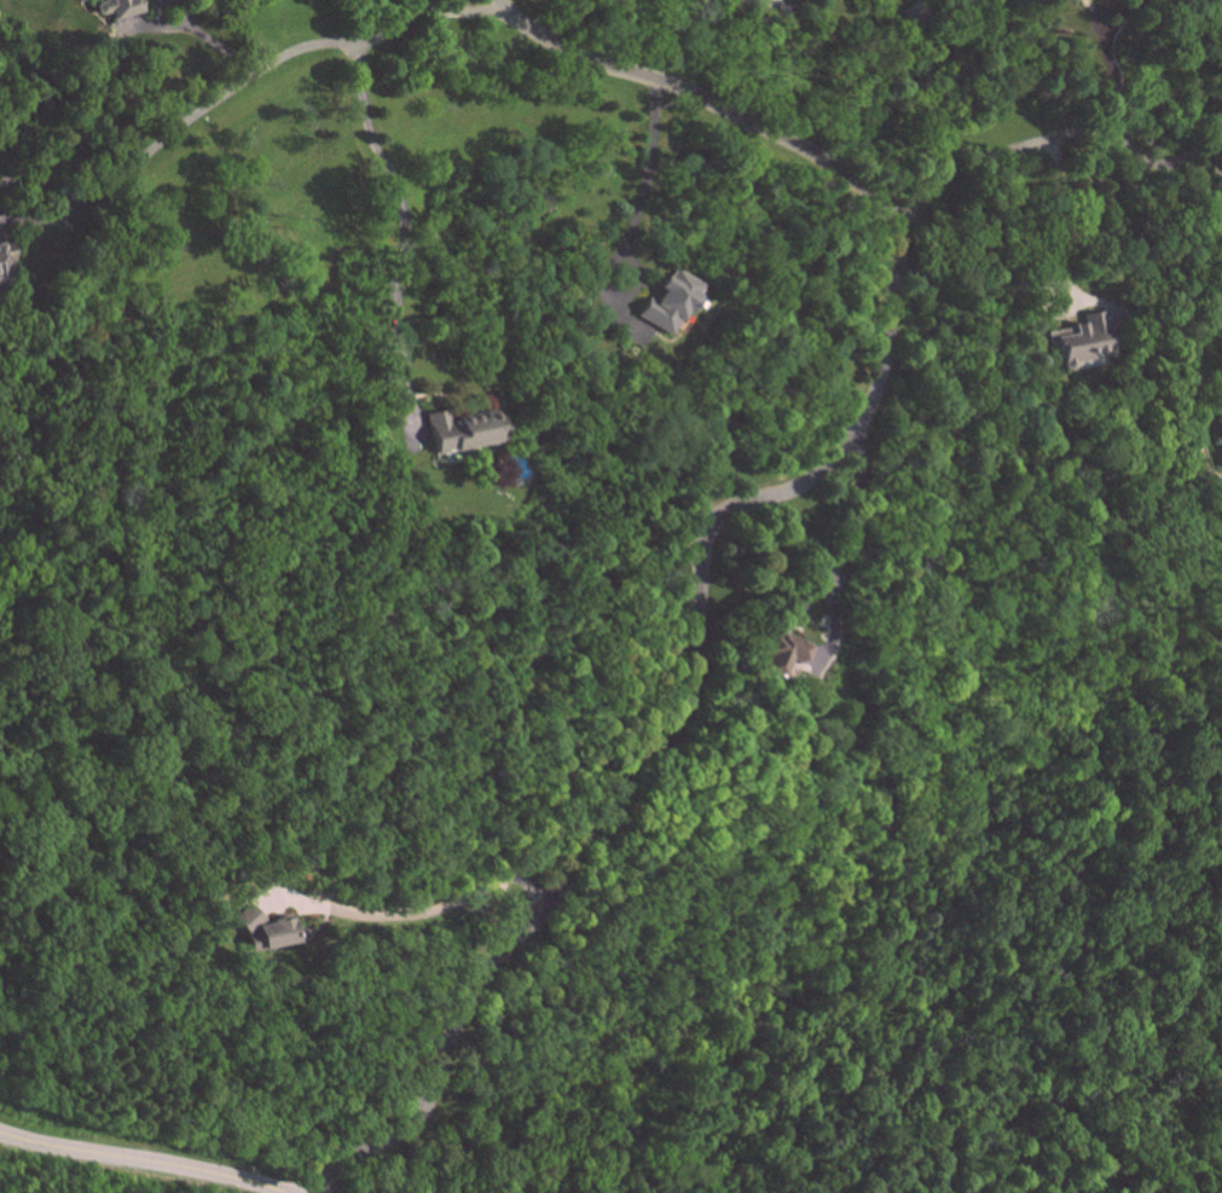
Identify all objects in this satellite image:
road: (571, 27)
road: (207, 37)
road: (1099, 37)
road: (259, 66)
road: (1052, 138)
road: (1212, 149)
road: (643, 178)
road: (399, 216)
road: (1043, 224)
building: (6, 255)
building: (668, 302)
building: (1087, 338)
building: (1221, 421)
building: (462, 427)
road: (725, 511)
road: (841, 545)
building: (778, 653)
road: (423, 910)
building: (262, 930)
road: (141, 1160)

